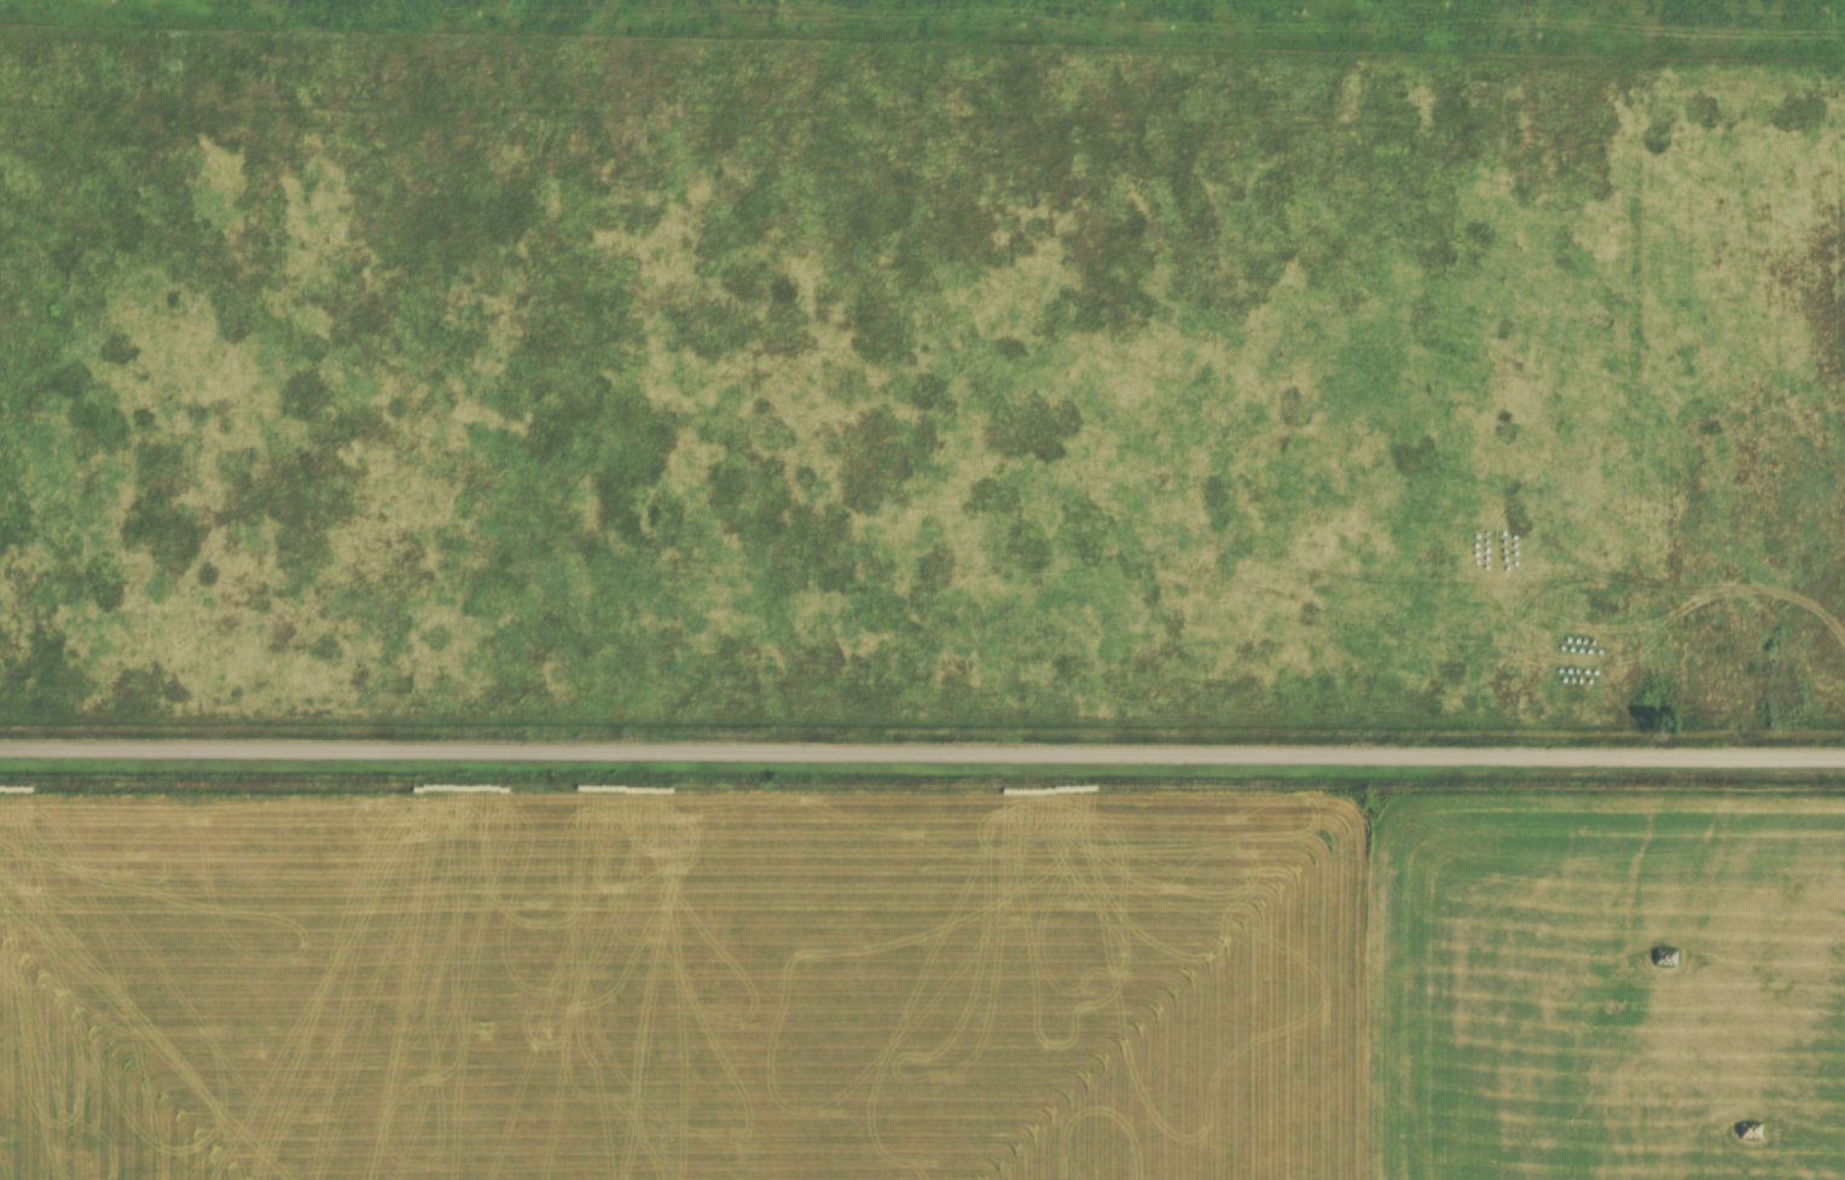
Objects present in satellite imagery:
road: (922, 756)

